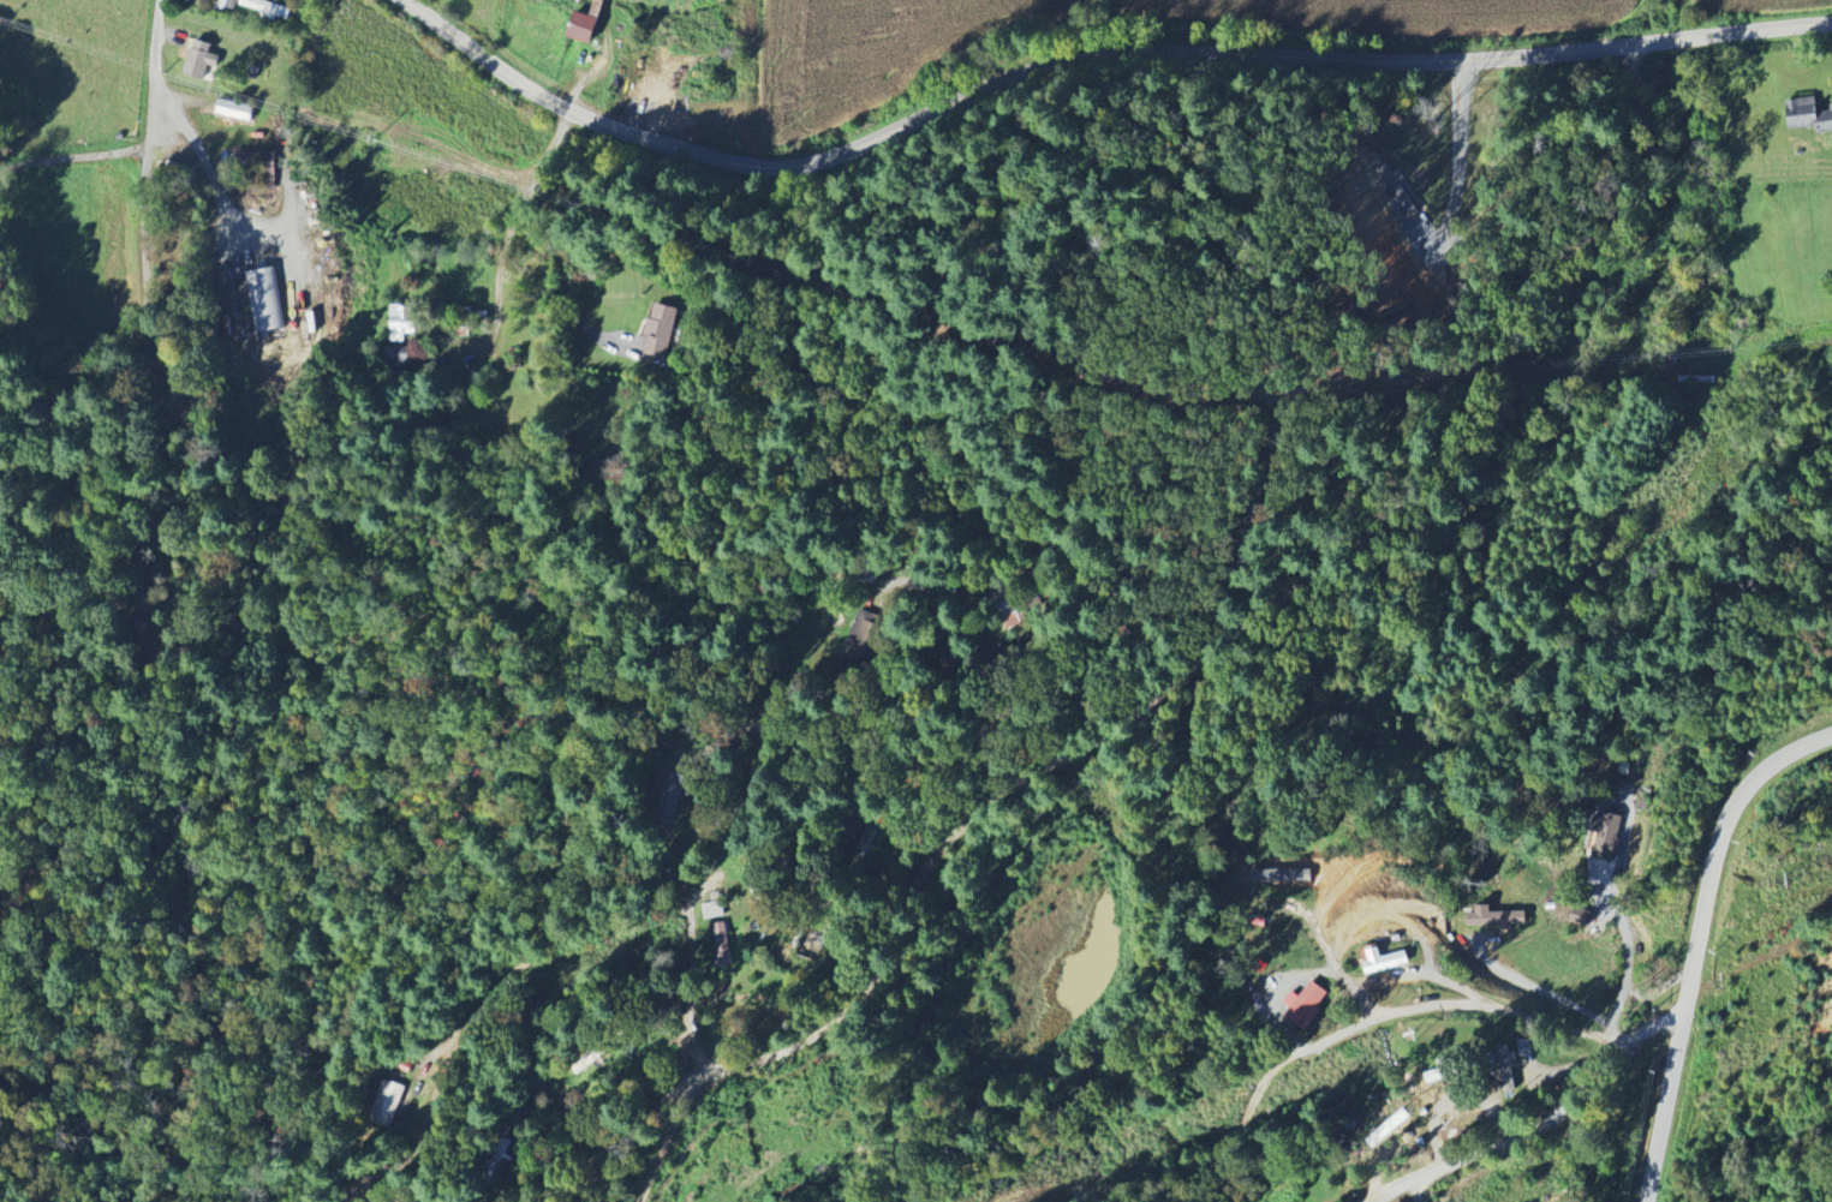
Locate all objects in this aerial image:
building: (265, 7)
building: (586, 23)
road: (1087, 56)
building: (199, 59)
building: (234, 110)
building: (1810, 114)
road: (72, 157)
road: (1458, 174)
road: (515, 227)
road: (561, 232)
road: (144, 240)
building: (264, 300)
building: (400, 324)
building: (660, 331)
park: (183, 352)
building: (396, 359)
building: (1695, 382)
road: (943, 626)
building: (865, 635)
road: (1188, 676)
building: (712, 909)
building: (1581, 915)
building: (1496, 917)
road: (1701, 944)
building: (722, 945)
road: (1347, 946)
road: (543, 956)
building: (1382, 961)
building: (1305, 1005)
road: (1301, 1059)
building: (1509, 1068)
building: (1440, 1074)
building: (387, 1102)
road: (1554, 1111)
building: (1388, 1130)
road: (1408, 1201)

